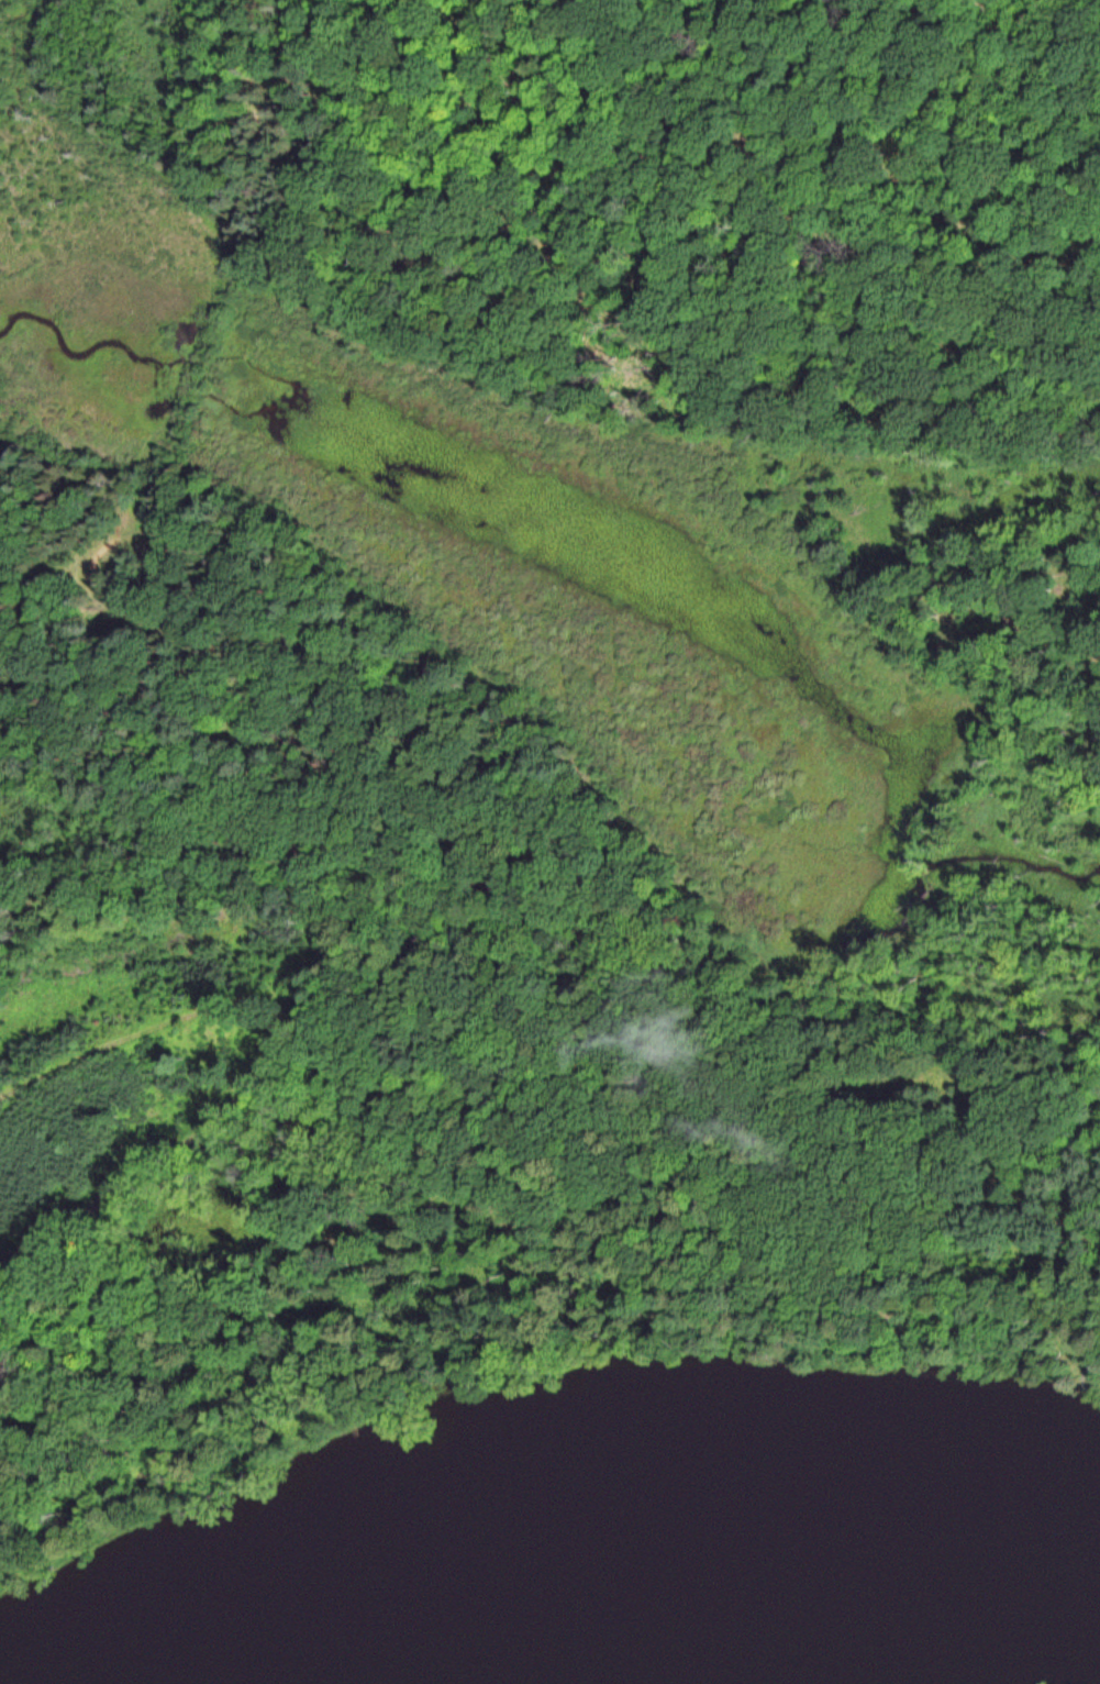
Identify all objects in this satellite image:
road: (180, 463)
road: (86, 542)
road: (518, 944)
river: (657, 1551)

